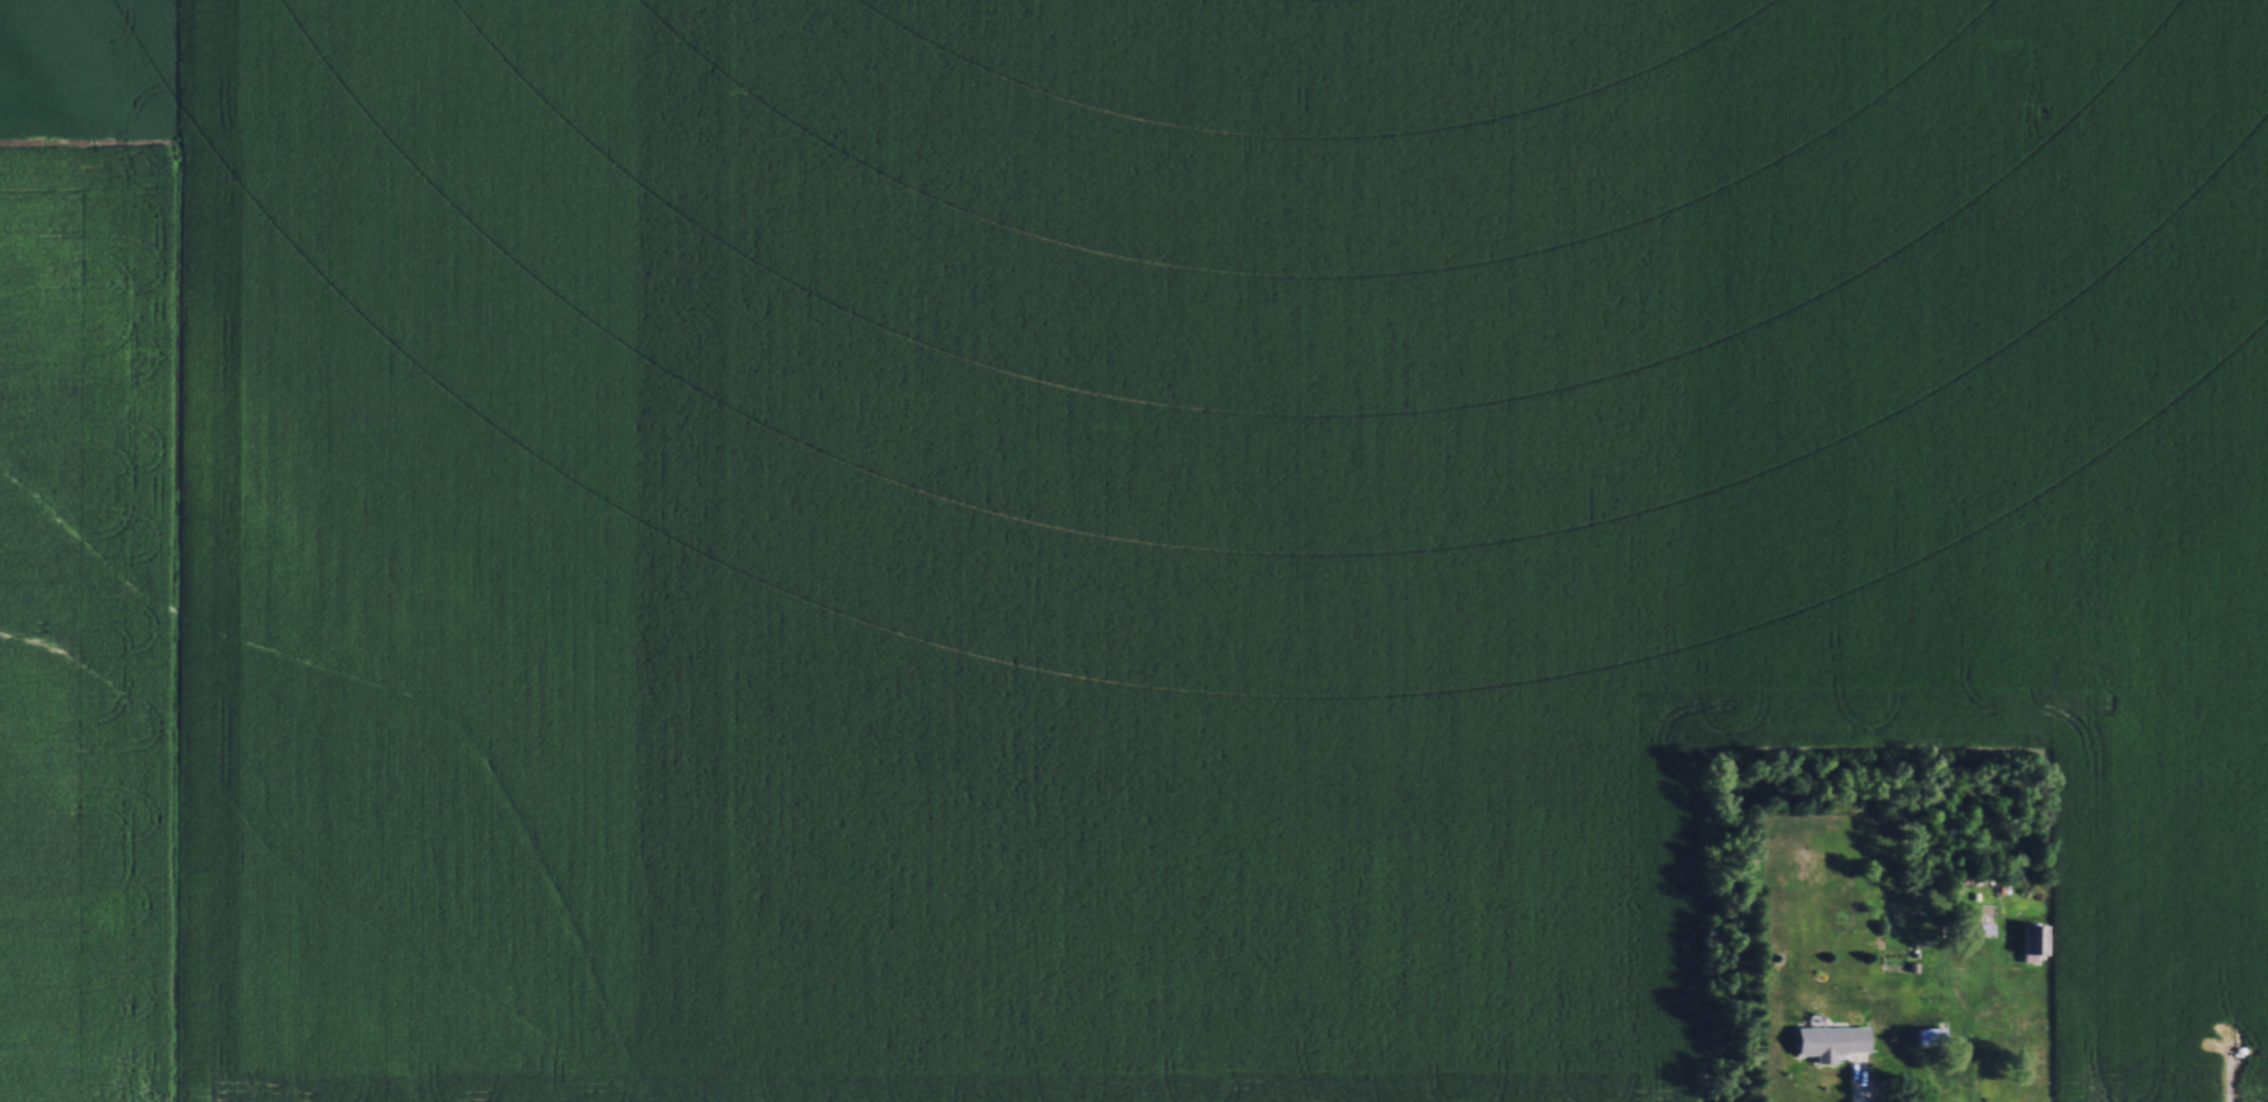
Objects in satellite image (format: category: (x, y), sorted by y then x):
building: (2030, 940)
road: (2079, 1013)
building: (1927, 1034)
building: (1828, 1038)

